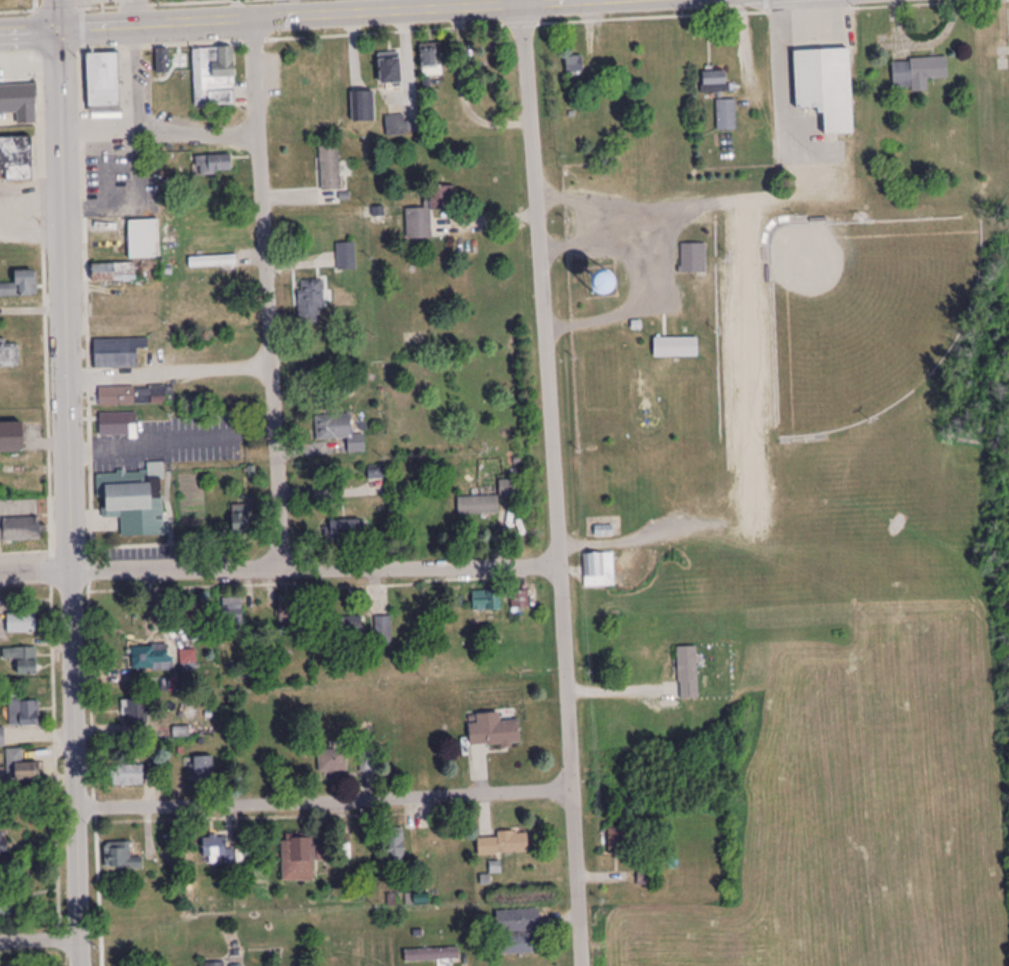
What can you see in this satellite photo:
road: (58, 16)
road: (280, 18)
building: (431, 60)
building: (162, 62)
building: (575, 66)
building: (391, 69)
building: (918, 73)
building: (214, 77)
building: (715, 82)
building: (103, 83)
building: (827, 87)
building: (19, 103)
building: (361, 107)
building: (727, 115)
building: (397, 128)
building: (17, 159)
building: (214, 165)
building: (330, 168)
building: (429, 212)
building: (378, 214)
building: (346, 256)
building: (693, 259)
building: (114, 273)
water tower: (601, 285)
building: (21, 286)
building: (606, 286)
road: (263, 293)
building: (345, 298)
building: (311, 300)
park: (867, 314)
building: (118, 353)
building: (9, 355)
building: (665, 356)
building: (137, 396)
building: (117, 425)
building: (339, 432)
building: (11, 439)
road: (555, 483)
building: (510, 490)
road: (71, 499)
building: (135, 501)
building: (478, 507)
building: (242, 520)
building: (20, 531)
building: (345, 532)
road: (418, 565)
road: (137, 571)
building: (599, 571)
building: (520, 600)
building: (486, 602)
building: (232, 615)
building: (291, 615)
building: (21, 623)
building: (346, 628)
building: (383, 631)
building: (151, 657)
building: (189, 658)
building: (23, 661)
building: (688, 673)
building: (136, 712)
building: (24, 713)
building: (494, 732)
road: (55, 737)
building: (2, 738)
building: (374, 761)
building: (334, 763)
building: (21, 769)
building: (204, 771)
road: (325, 802)
building: (618, 840)
building: (503, 845)
building: (3, 846)
building: (218, 850)
building: (394, 855)
building: (121, 857)
building: (299, 859)
building: (418, 902)
building: (6, 907)
building: (519, 932)
road: (41, 941)
building: (432, 956)
building: (216, 964)

